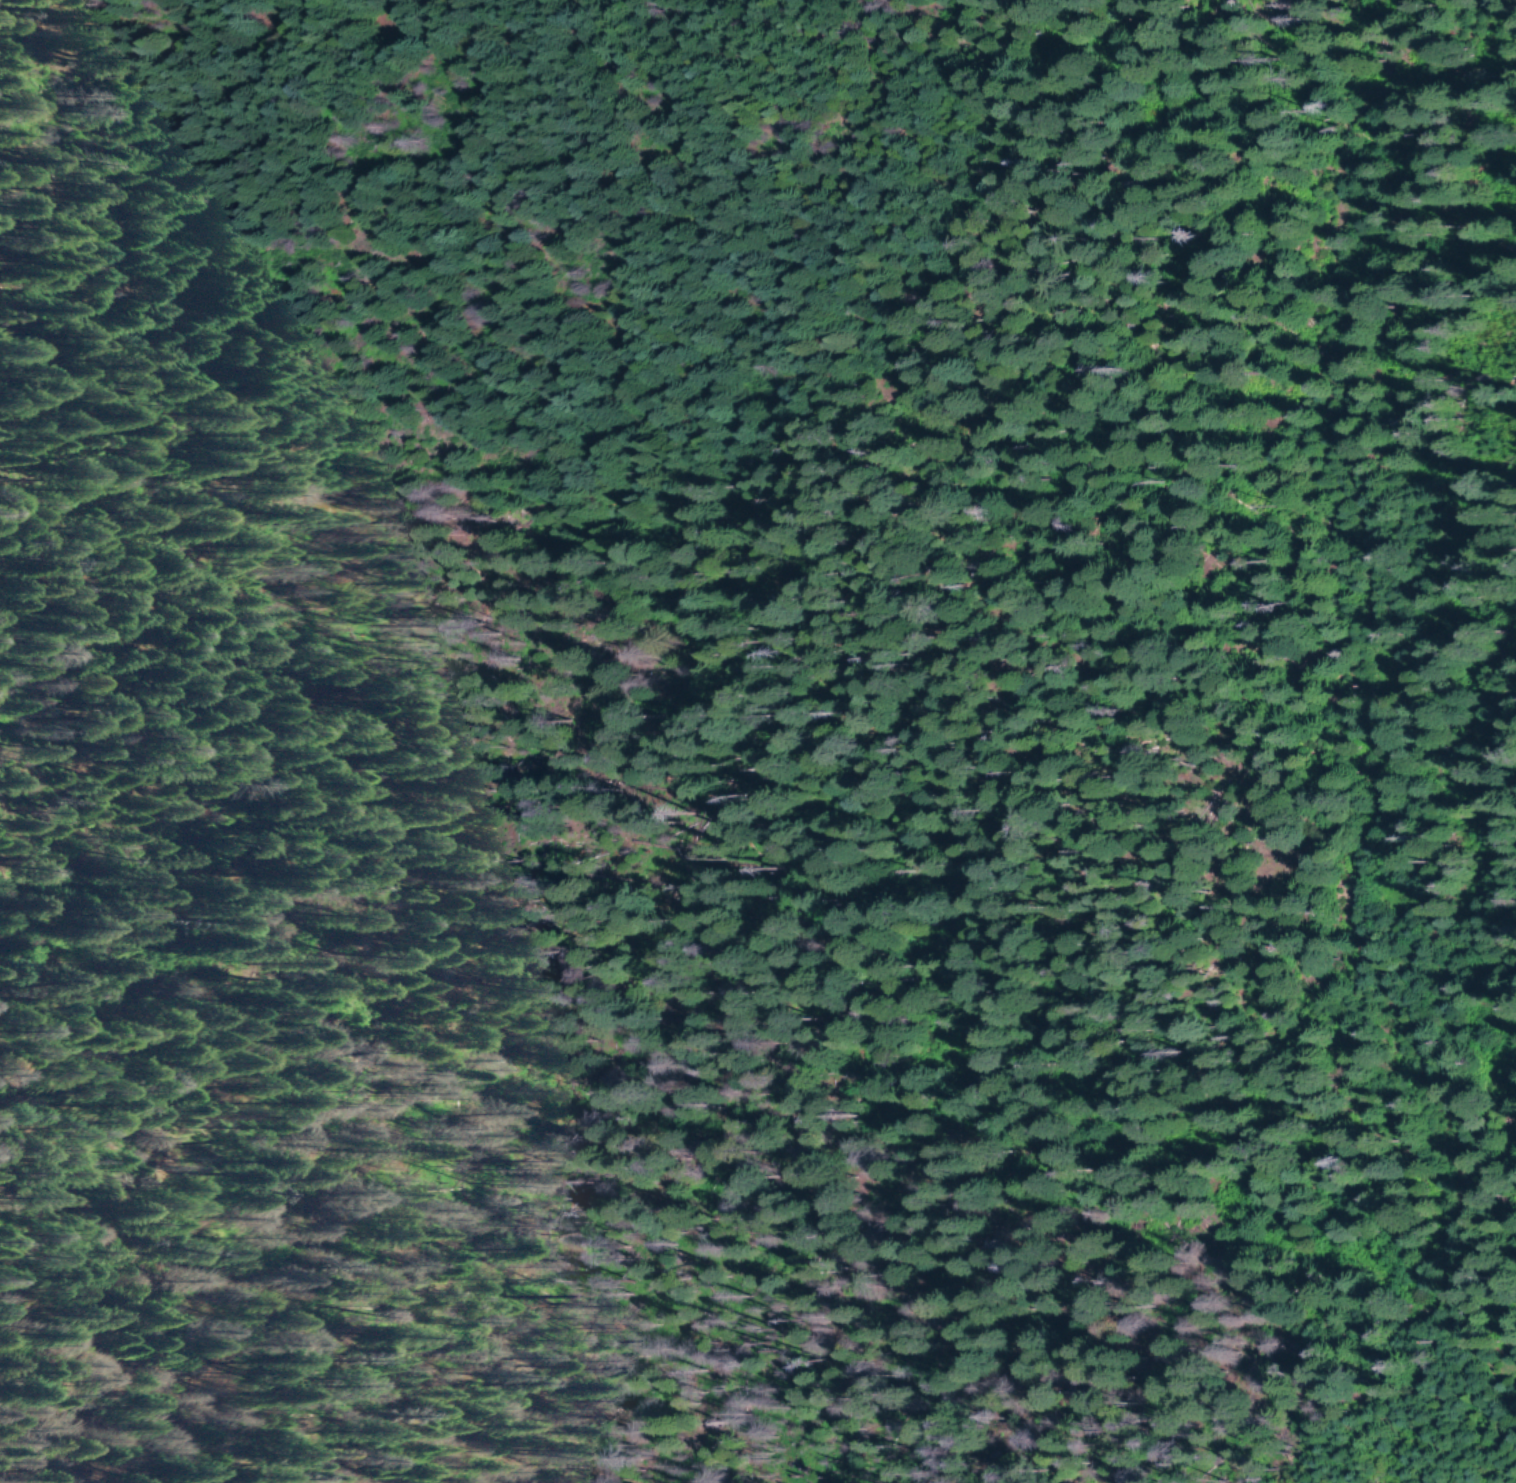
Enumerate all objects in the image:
road: (394, 11)
road: (1452, 1261)

